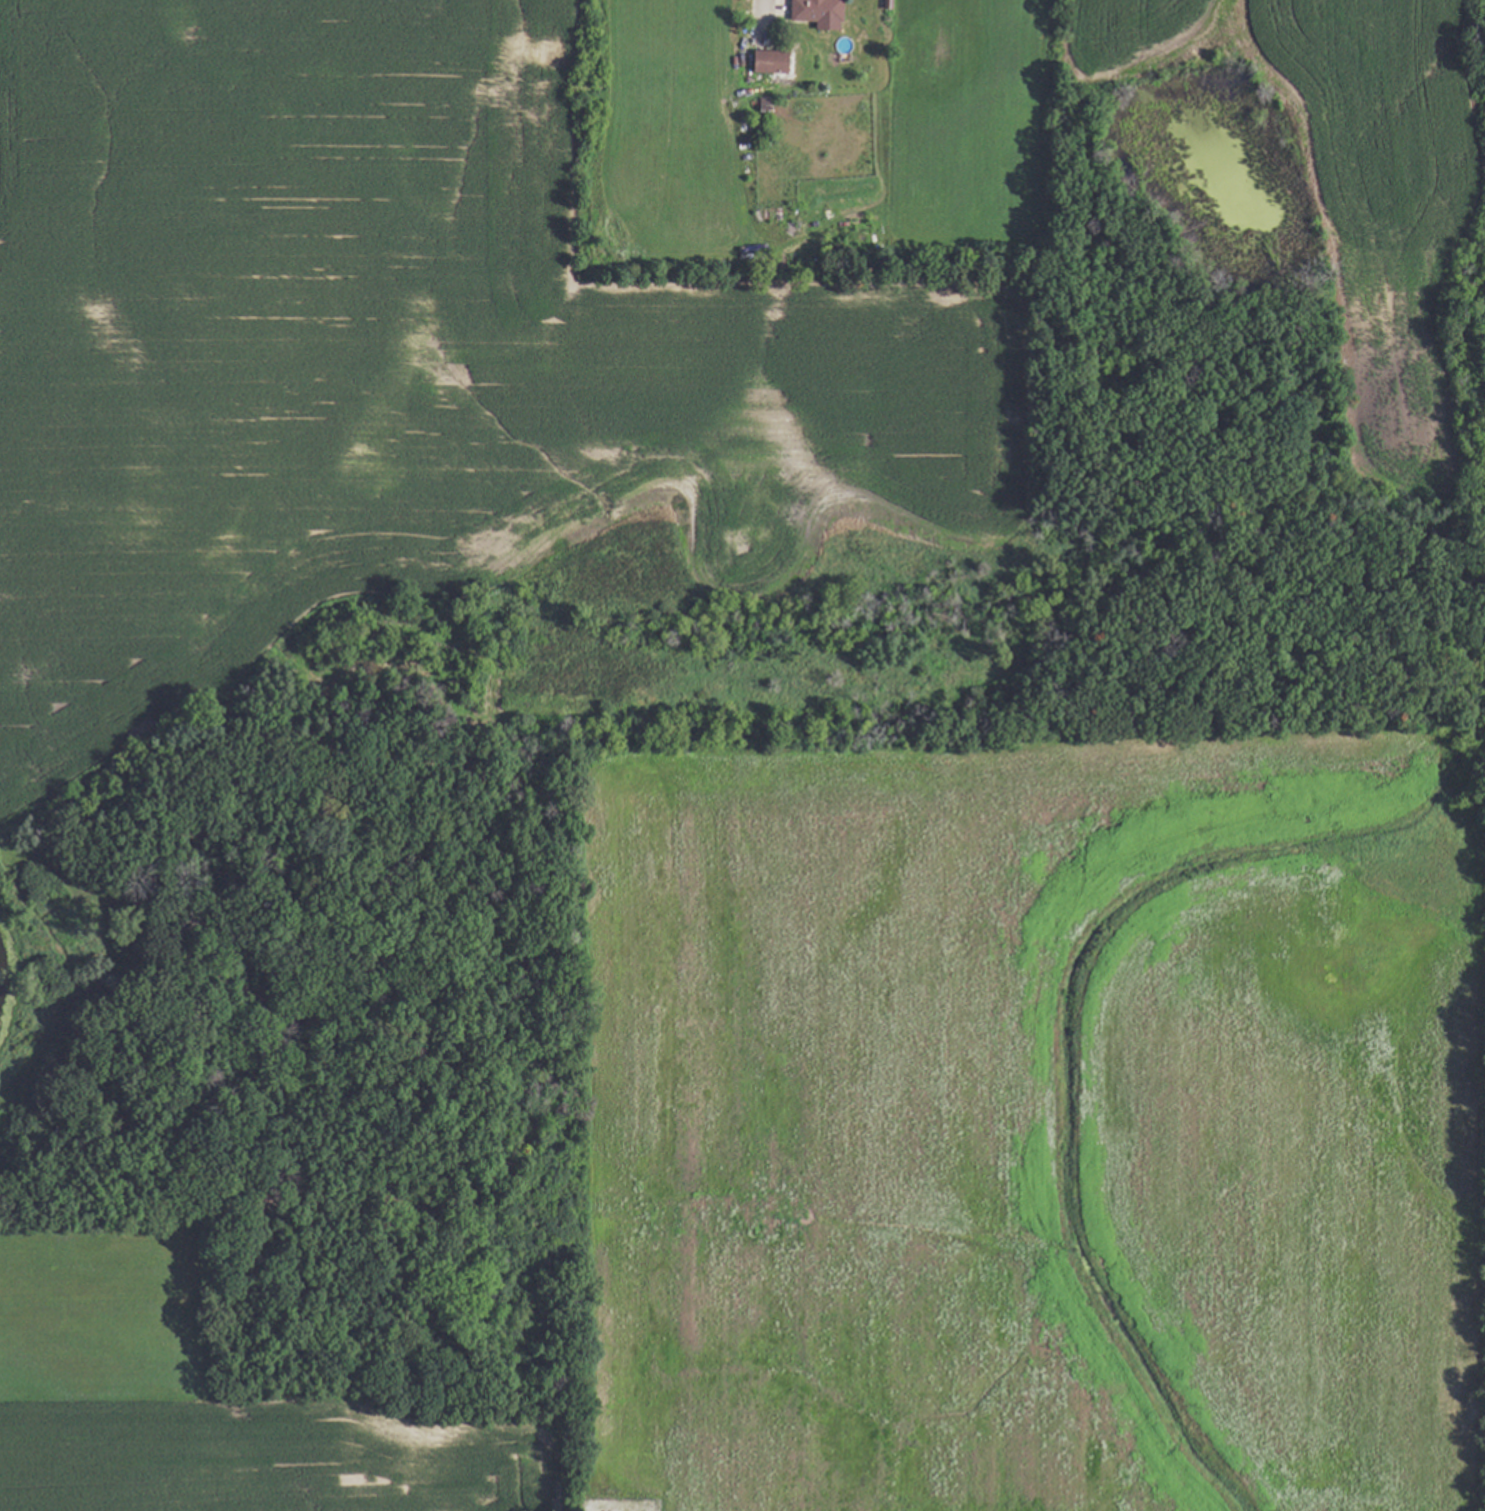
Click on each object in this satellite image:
road: (760, 5)
building: (811, 10)
crop: (601, 293)
crop: (936, 1158)

